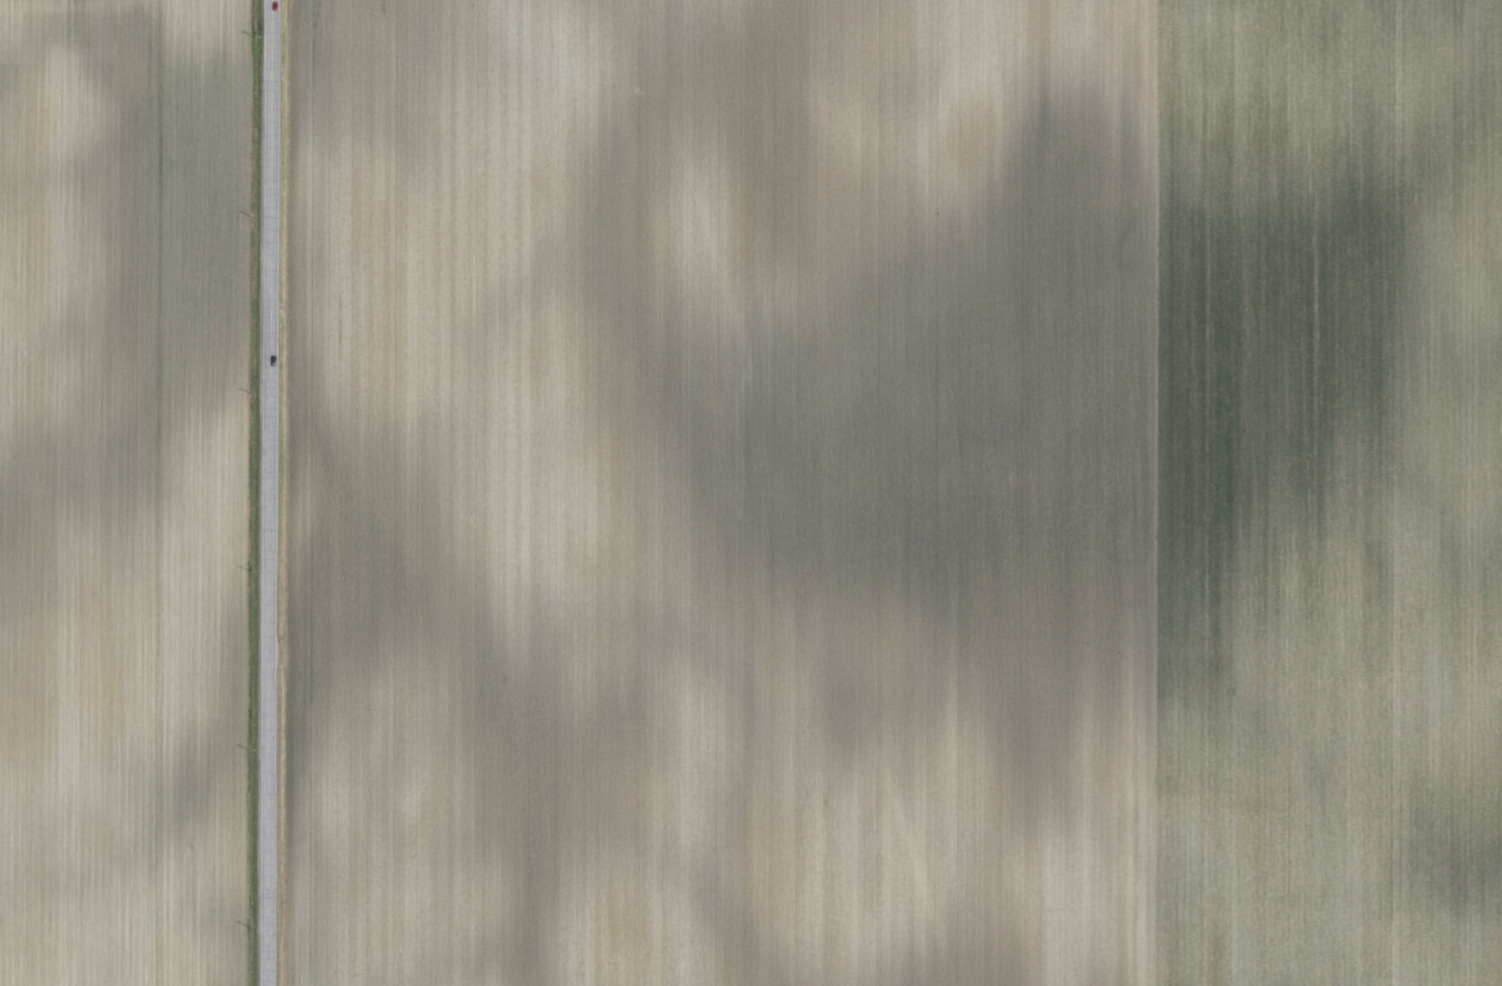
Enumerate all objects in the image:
road: (257, 493)

